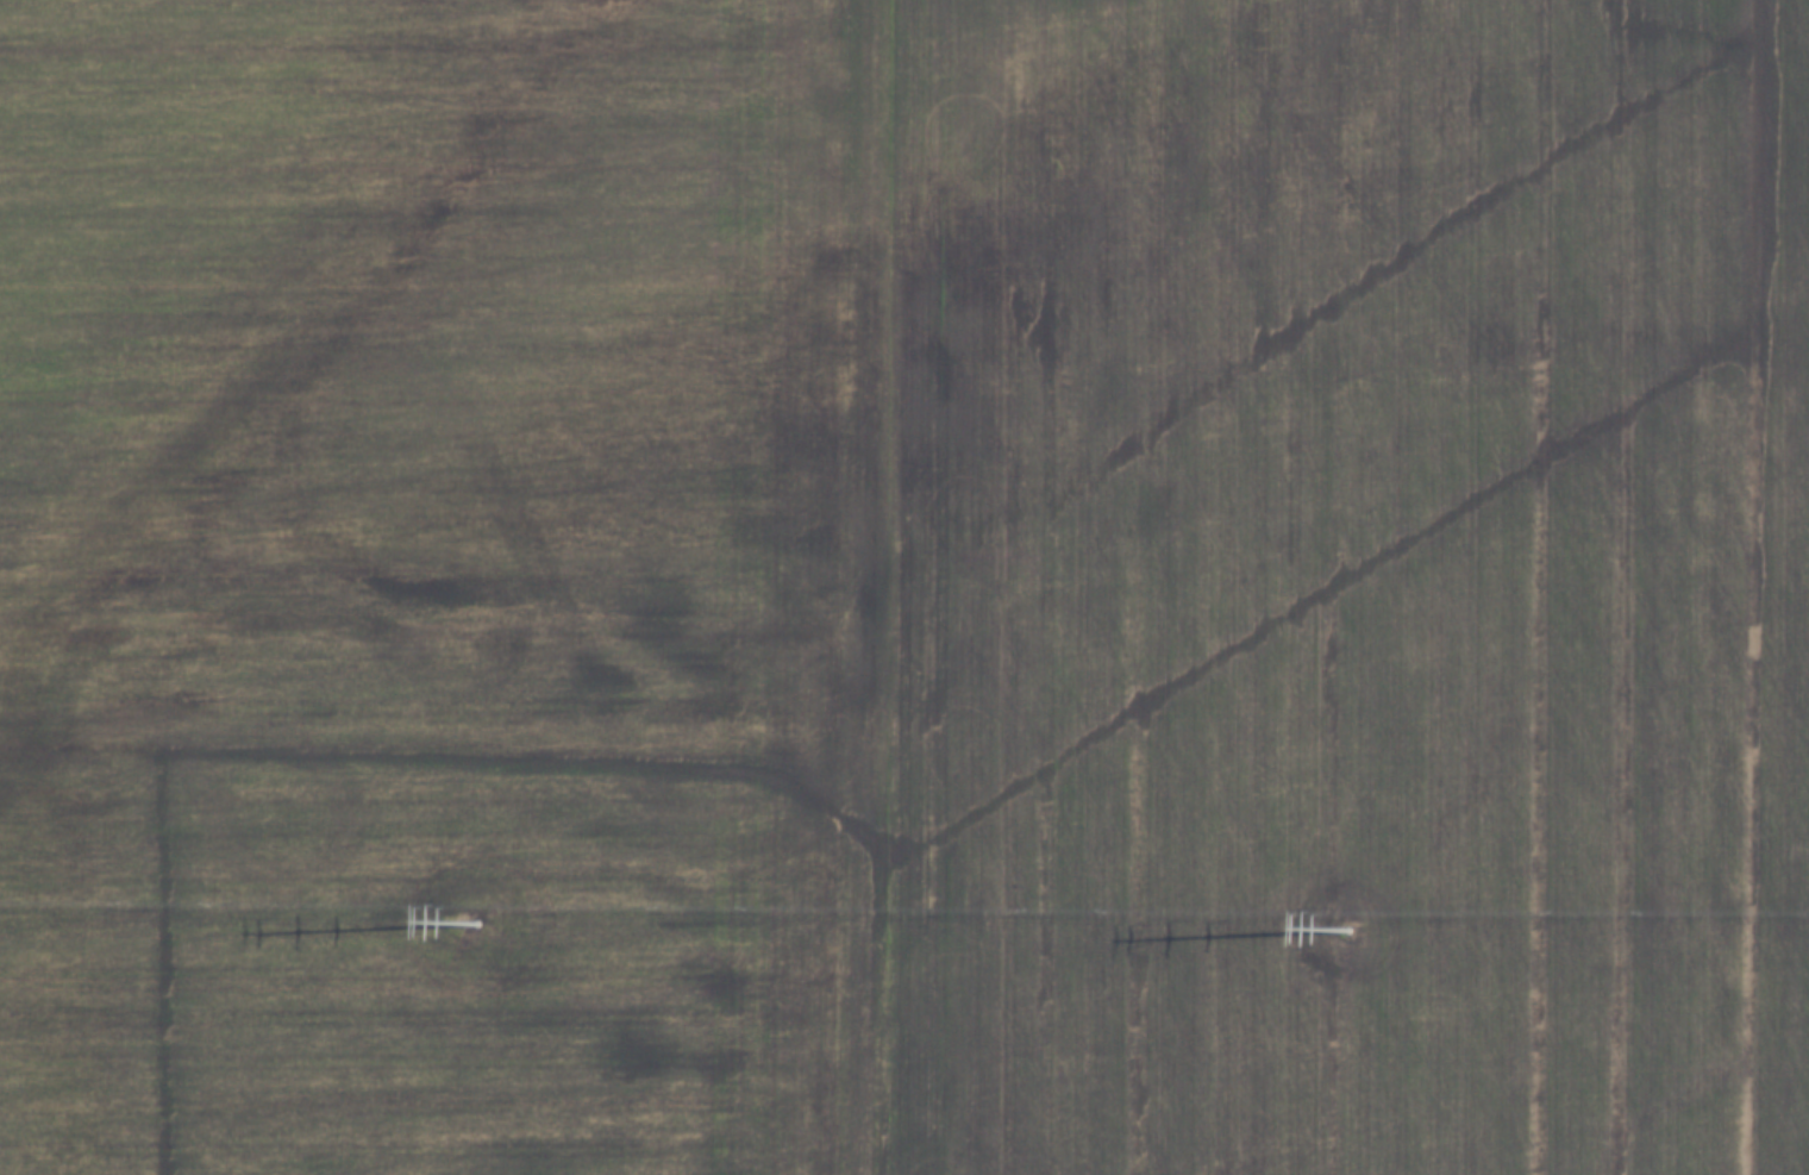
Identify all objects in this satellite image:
power tower: (478, 925)
power tower: (1348, 930)

